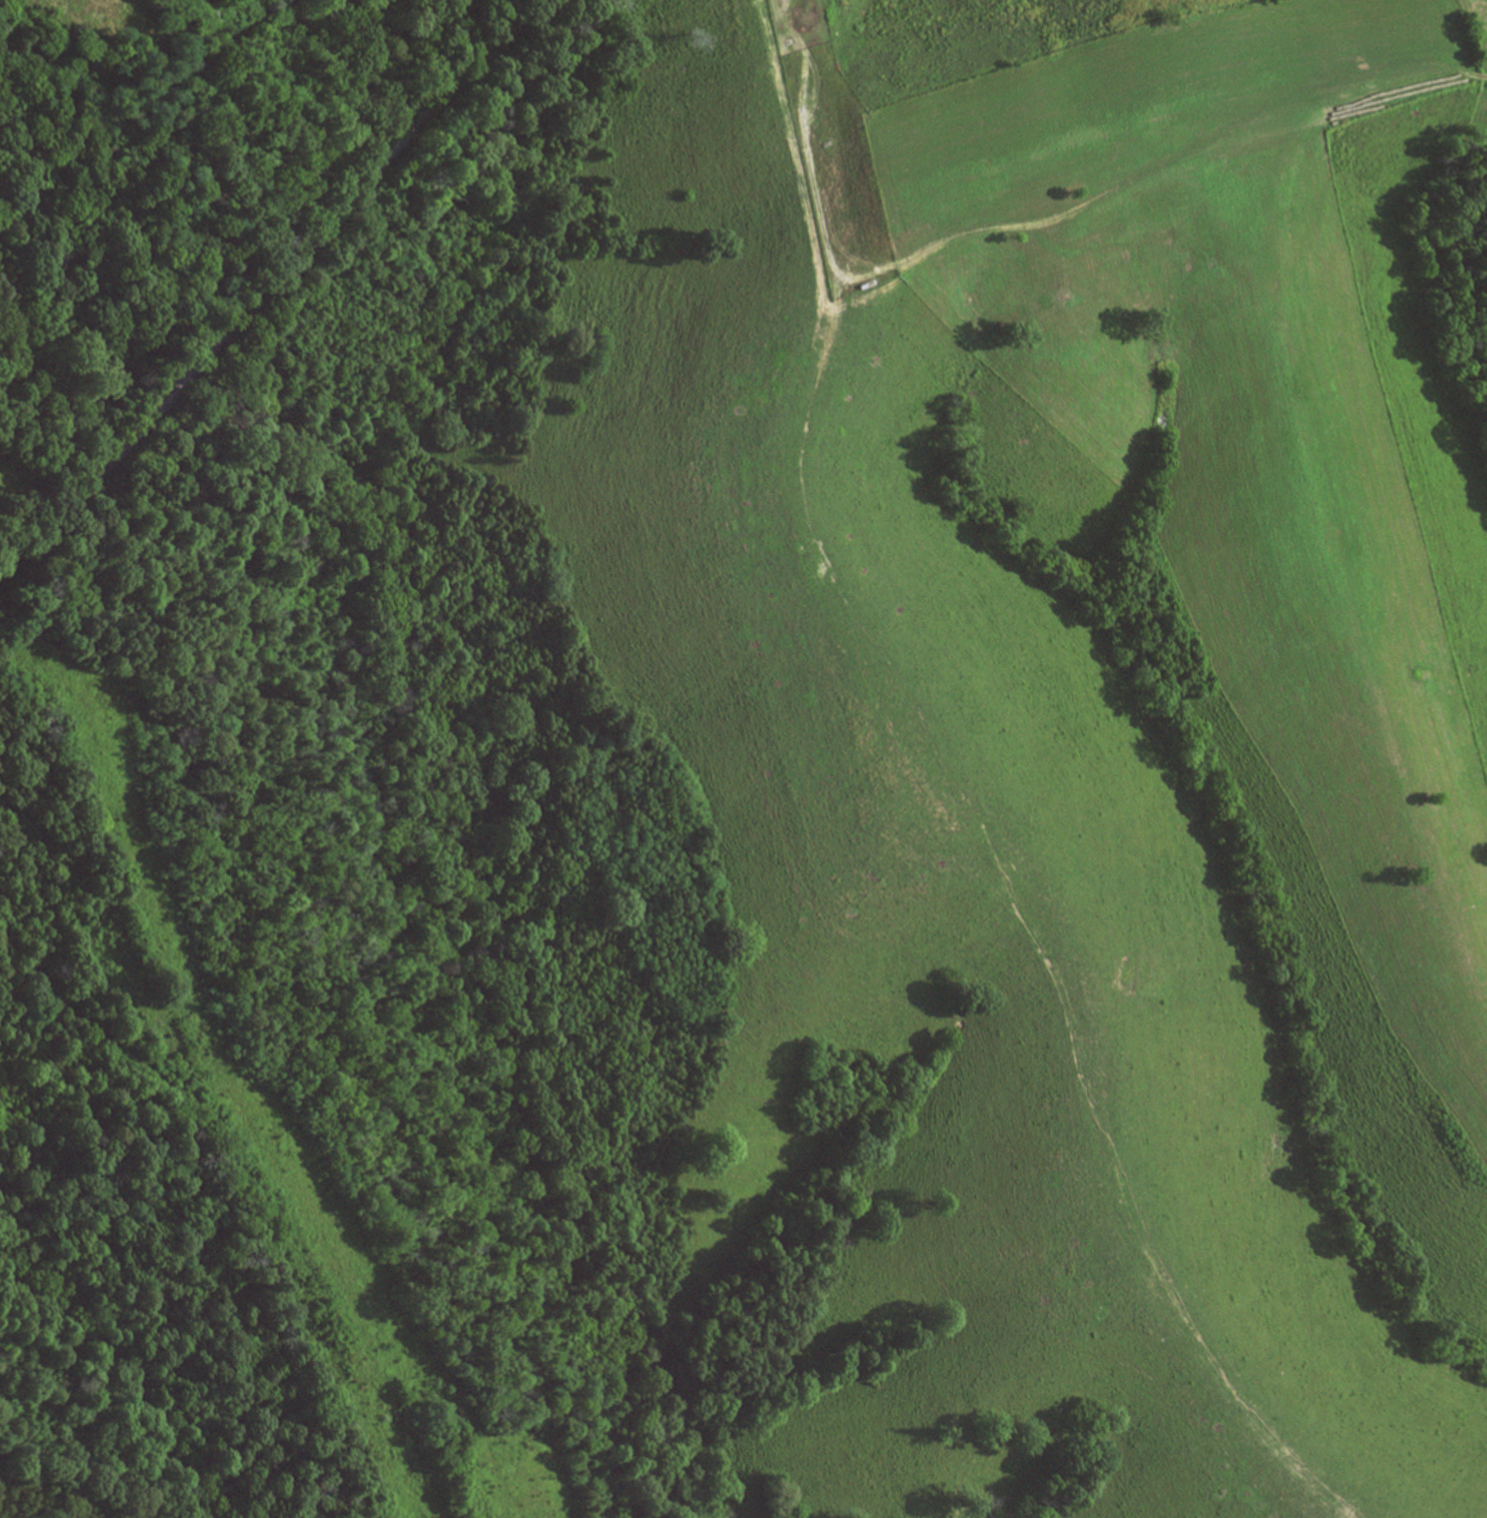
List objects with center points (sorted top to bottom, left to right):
railway: (268, 279)

